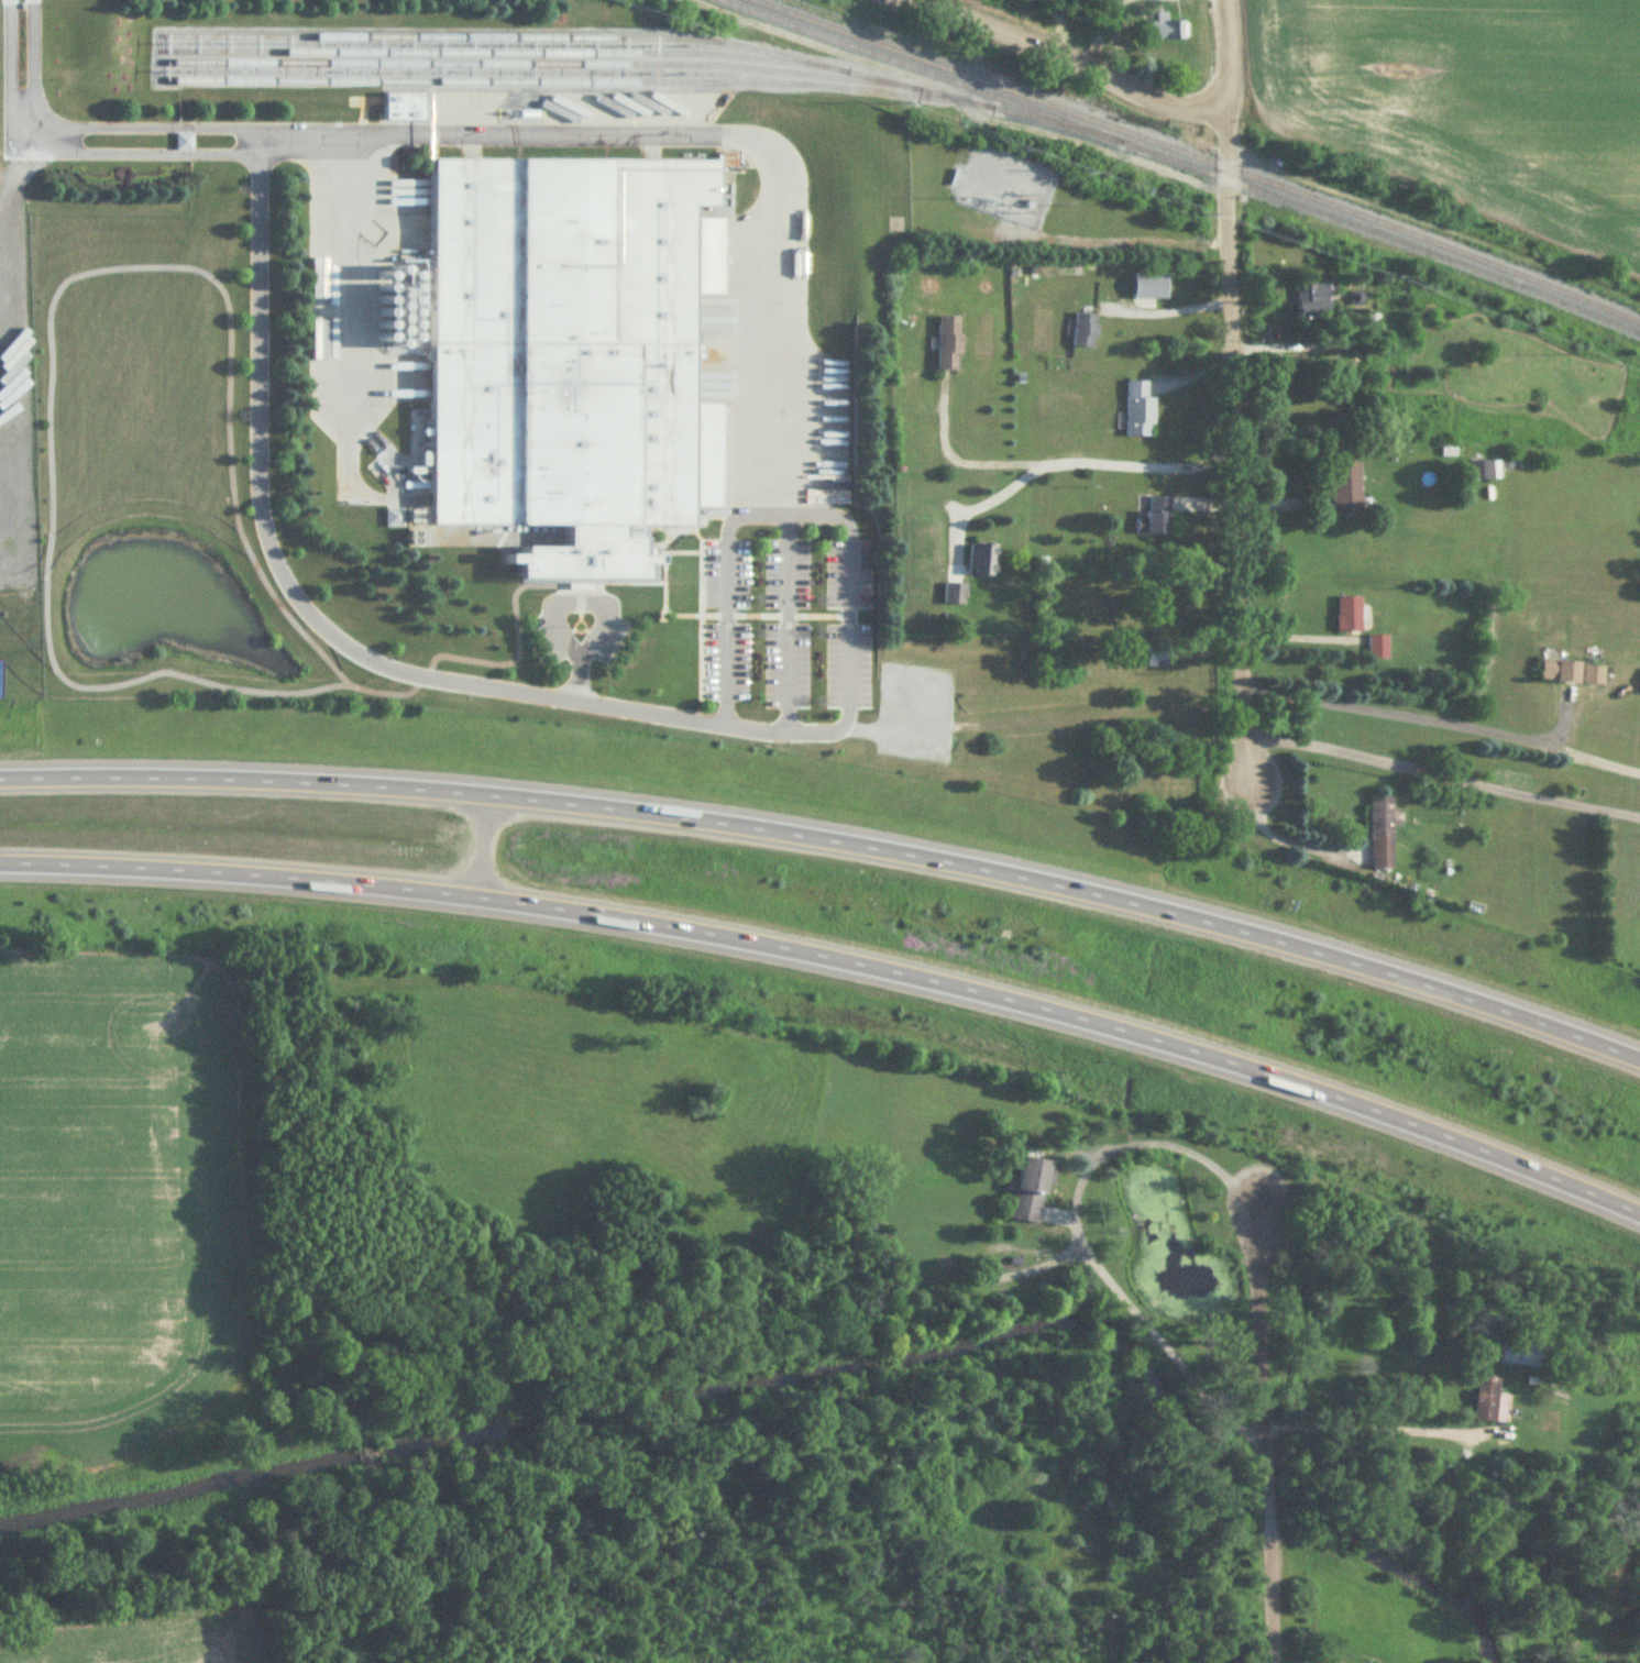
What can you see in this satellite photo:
building: (1163, 30)
railway: (630, 40)
railway: (493, 54)
road: (1057, 60)
railway: (530, 65)
railway: (570, 84)
road: (707, 95)
building: (404, 108)
road: (87, 130)
road: (499, 134)
building: (184, 143)
road: (68, 154)
railway: (1197, 157)
railway: (1178, 164)
road: (1016, 179)
power substation: (1004, 187)
road: (433, 202)
road: (1003, 229)
road: (1099, 243)
building: (1312, 301)
road: (777, 305)
road: (1168, 313)
building: (1372, 320)
building: (1085, 332)
building: (949, 344)
building: (564, 345)
road: (346, 353)
road: (1230, 393)
building: (1138, 410)
road: (1054, 461)
building: (1479, 471)
building: (1346, 489)
road: (819, 505)
road: (978, 506)
building: (394, 518)
building: (1155, 518)
road: (845, 526)
building: (588, 561)
building: (982, 561)
road: (291, 593)
building: (954, 594)
road: (598, 606)
building: (1350, 616)
parking lot: (788, 625)
road: (788, 626)
parking lot: (549, 640)
parking lot: (608, 640)
building: (1378, 649)
building: (1155, 658)
building: (1560, 673)
building: (1593, 676)
road: (1440, 725)
road: (1442, 777)
building: (1382, 835)
road: (833, 837)
road: (475, 838)
road: (1289, 839)
road: (837, 955)
building: (1031, 1191)
road: (1065, 1213)
road: (1255, 1337)
building: (1525, 1355)
building: (1487, 1399)
road: (1372, 1425)
building: (1098, 1491)
road: (1261, 1496)
road: (1264, 1593)

